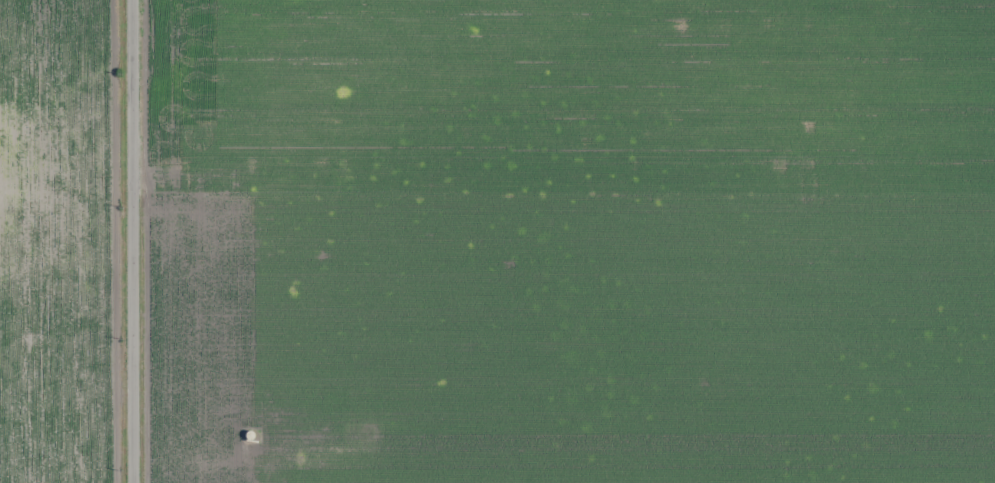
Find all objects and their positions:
road: (132, 128)
road: (132, 370)

